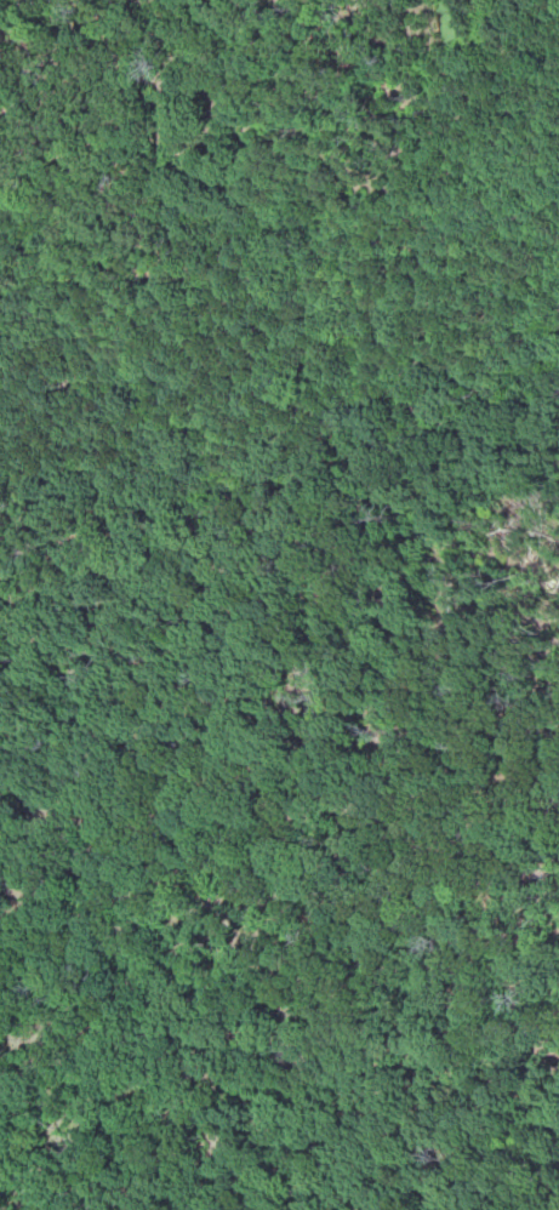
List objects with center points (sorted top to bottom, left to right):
road: (16, 5)

